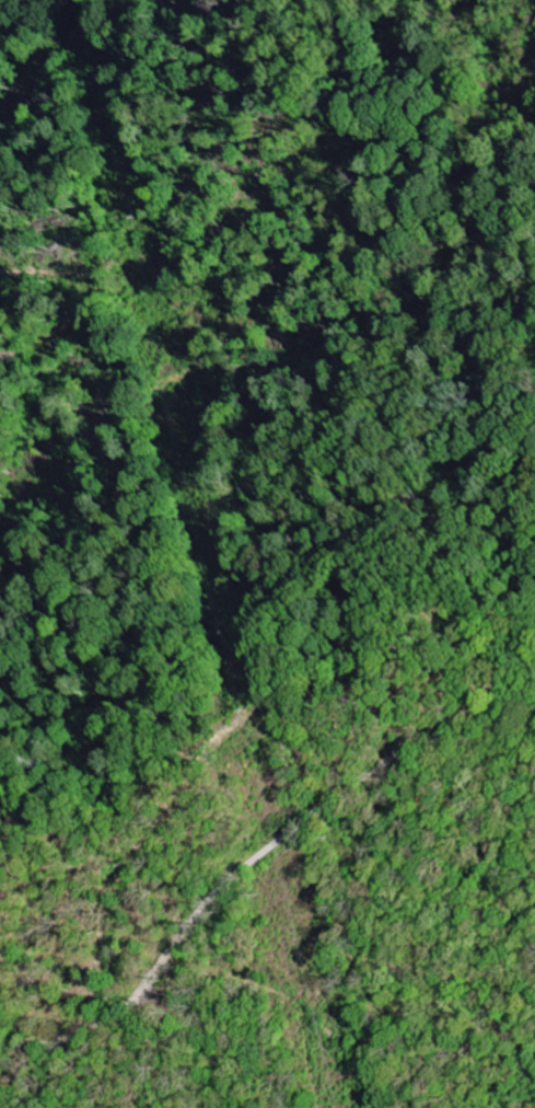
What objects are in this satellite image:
road: (504, 694)
road: (265, 849)

